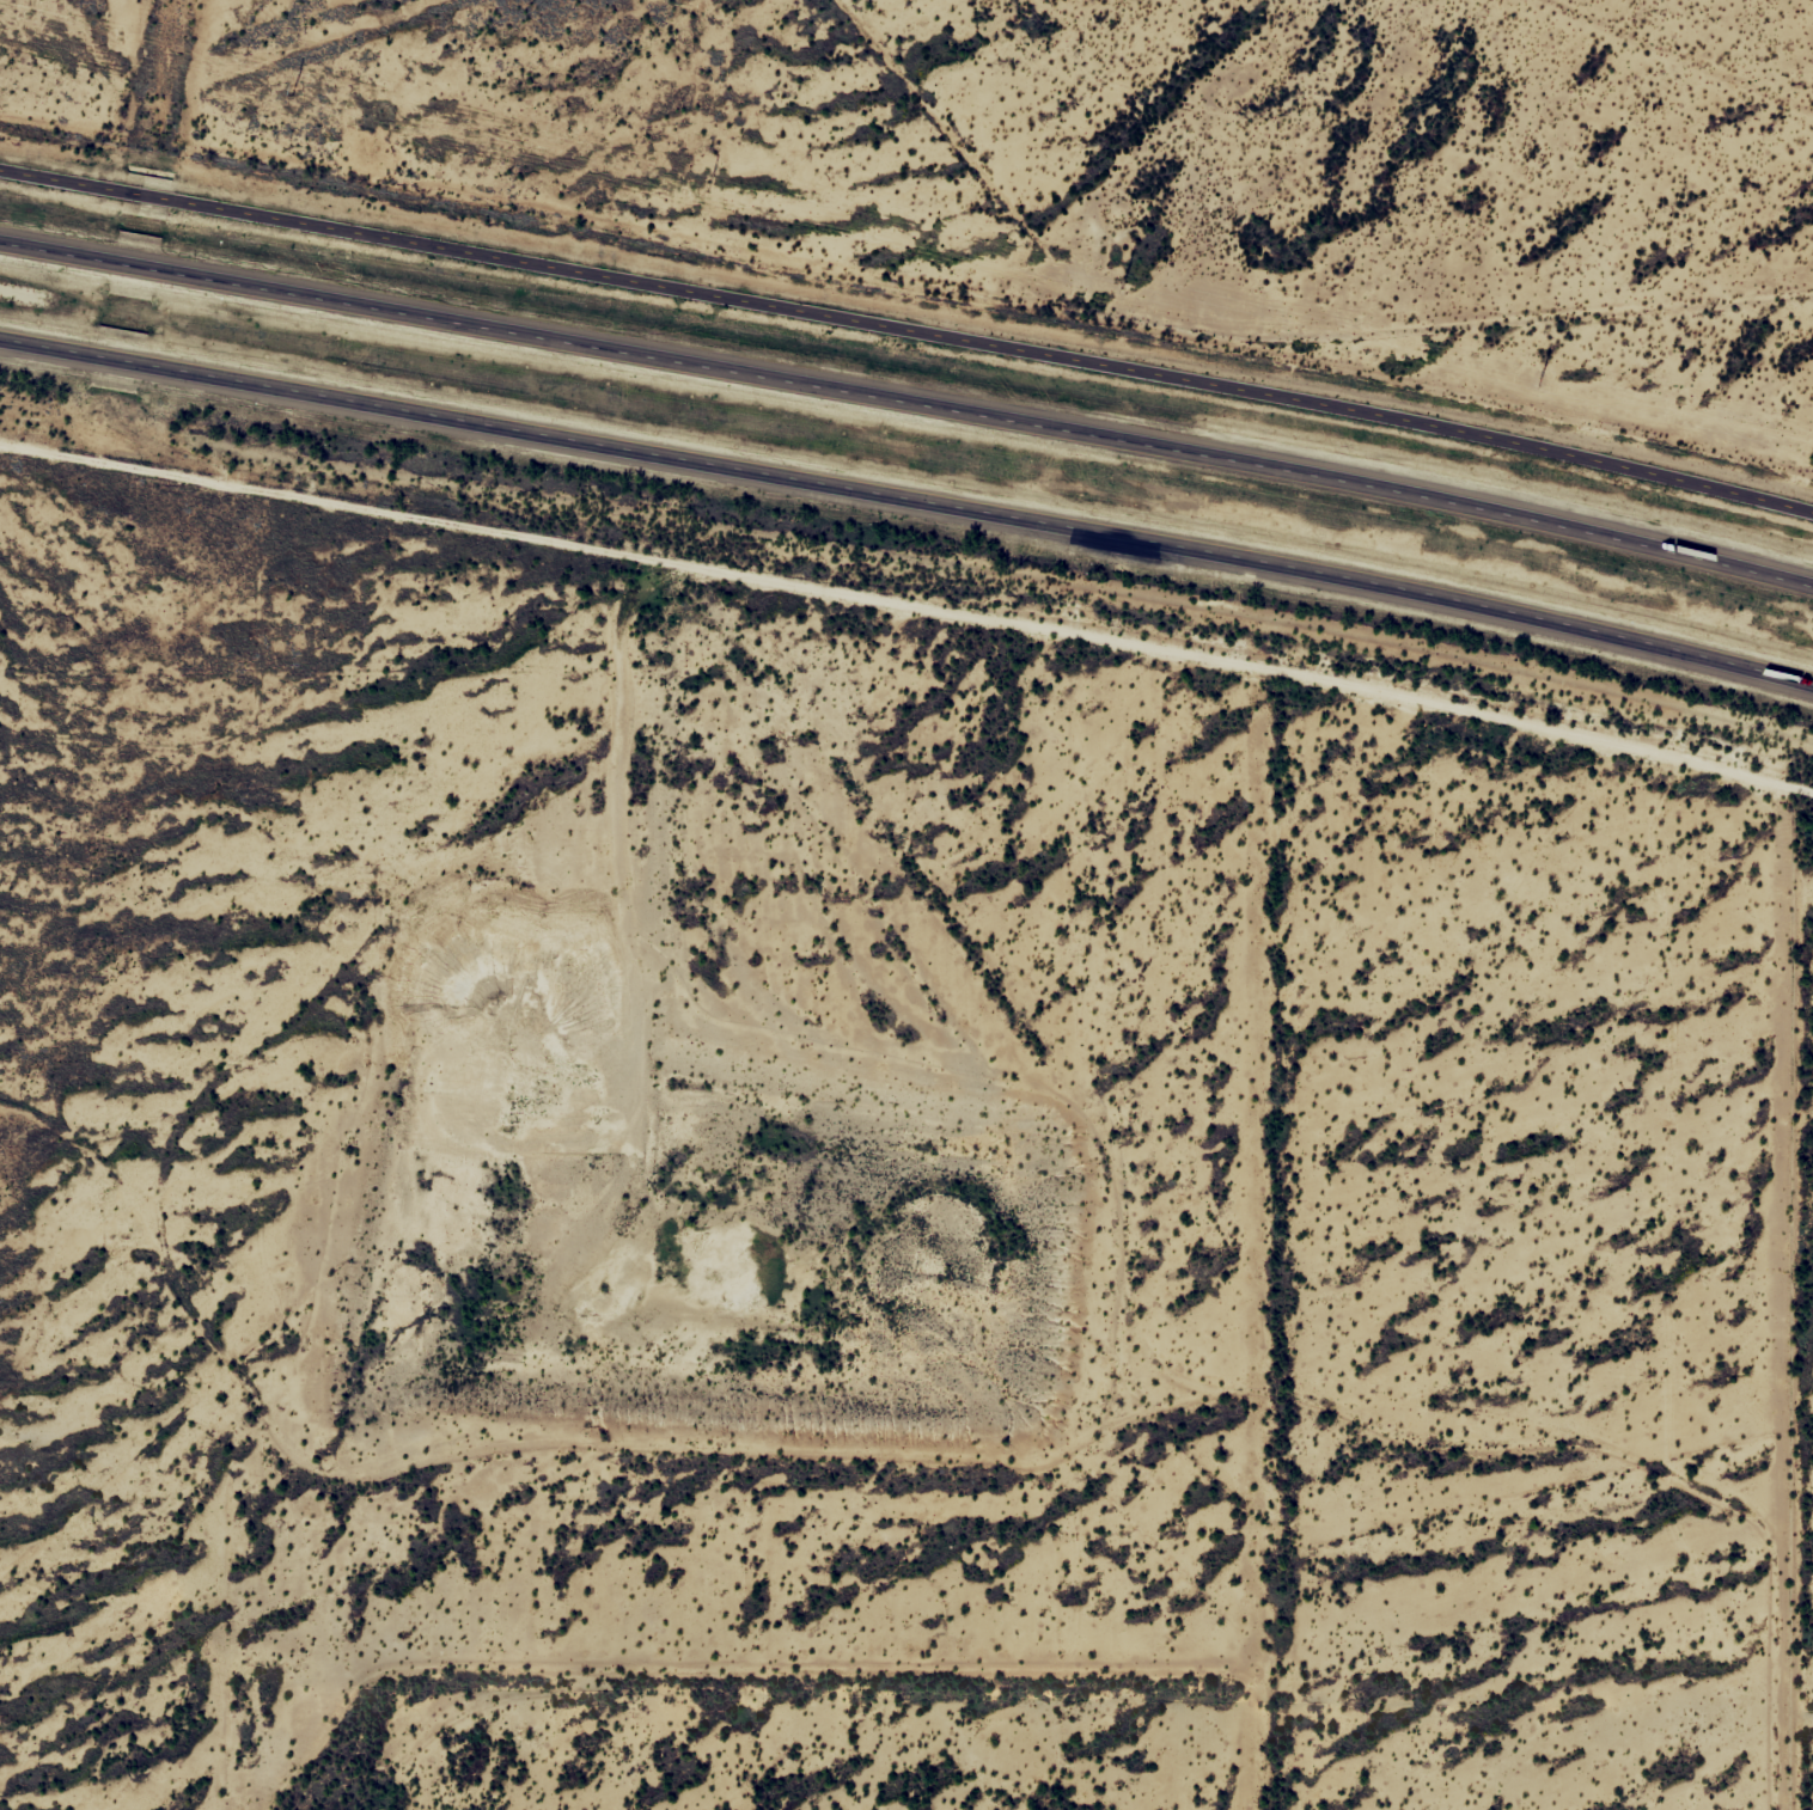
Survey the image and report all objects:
power tower: (294, 88)
power tower: (709, 184)
power tower: (1123, 282)
road: (909, 322)
power tower: (1542, 378)
road: (910, 395)
road: (909, 505)

